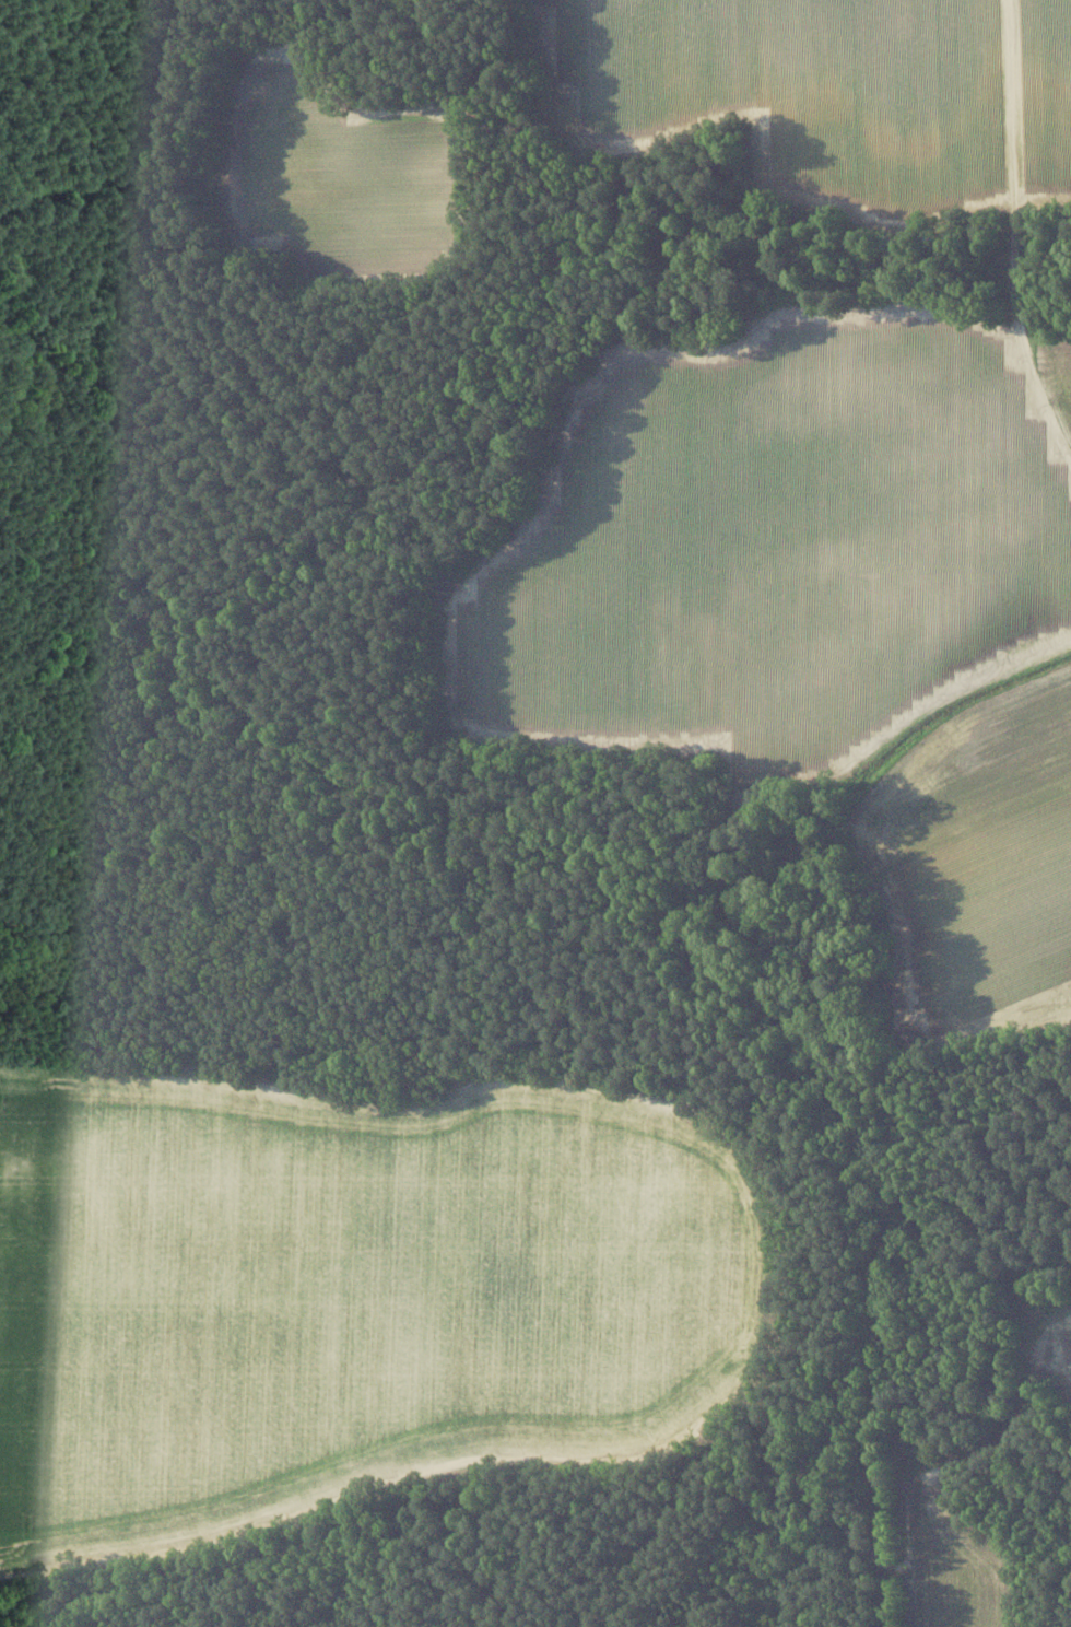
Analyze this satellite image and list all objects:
crop: (801, 93)
crop: (1043, 102)
crop: (338, 174)
road: (1015, 236)
crop: (1056, 377)
crop: (817, 611)
crop: (353, 1287)
crop: (1050, 1346)
road: (229, 1527)
crop: (957, 1548)

